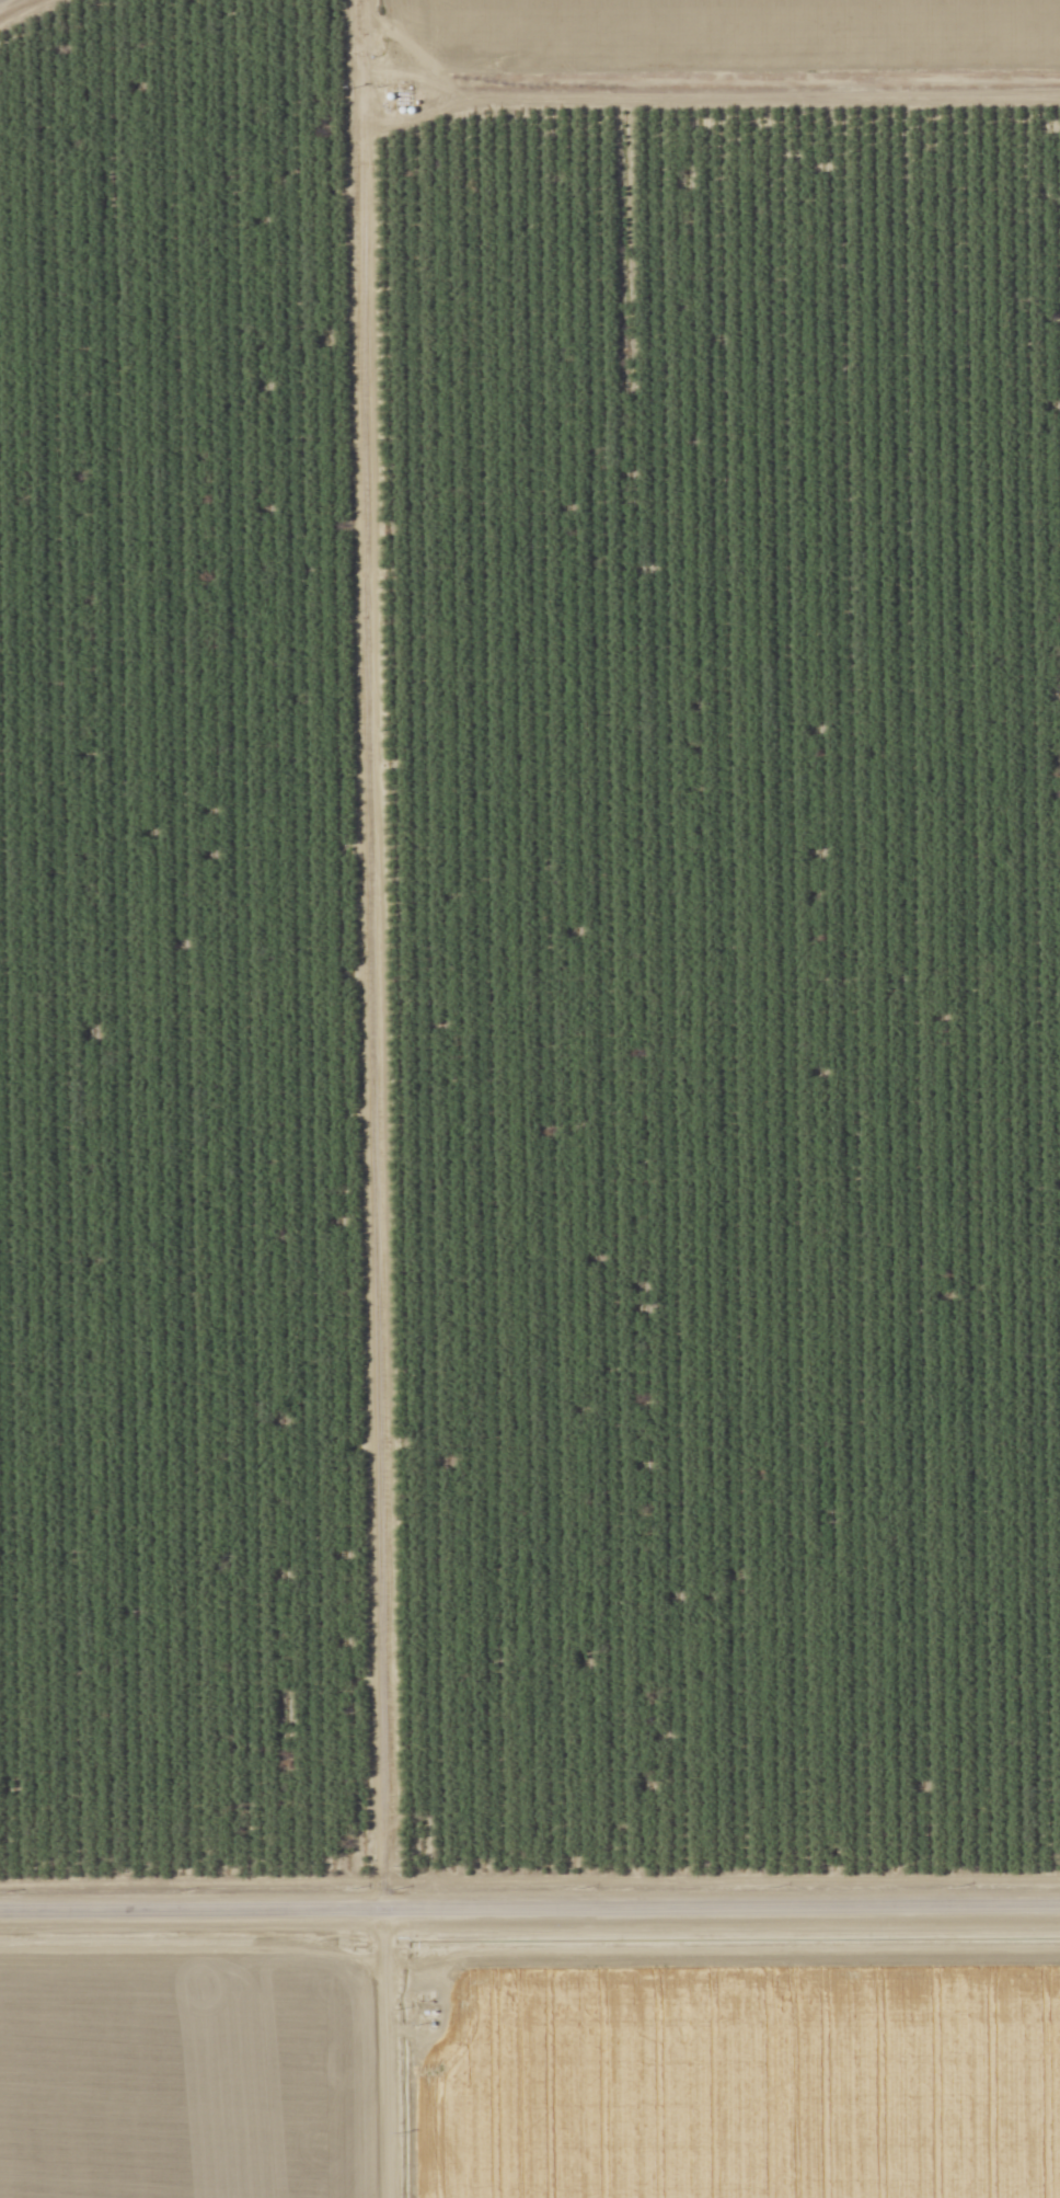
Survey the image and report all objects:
crop: (702, 34)
road: (367, 1099)
road: (529, 1904)
crop: (715, 2060)
crop: (185, 2061)

